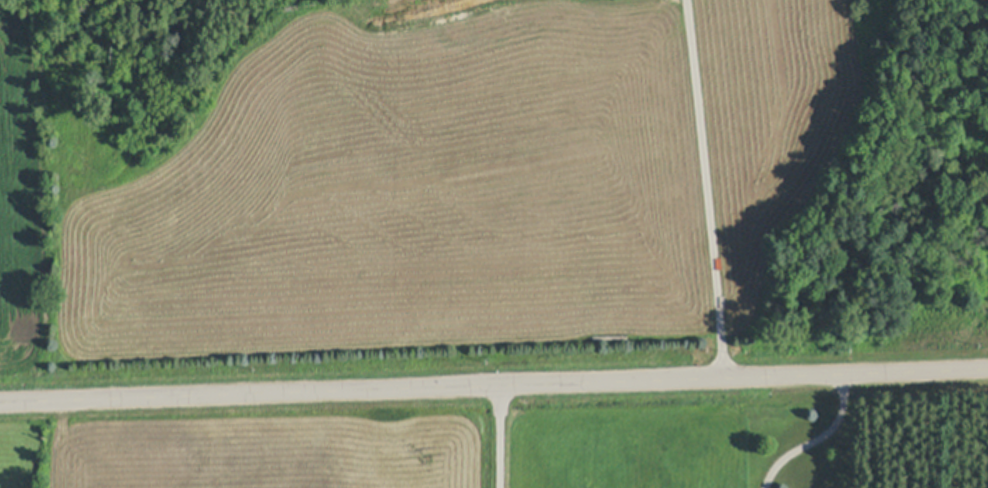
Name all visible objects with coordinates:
road: (705, 187)
road: (493, 383)
road: (502, 435)
road: (819, 437)

